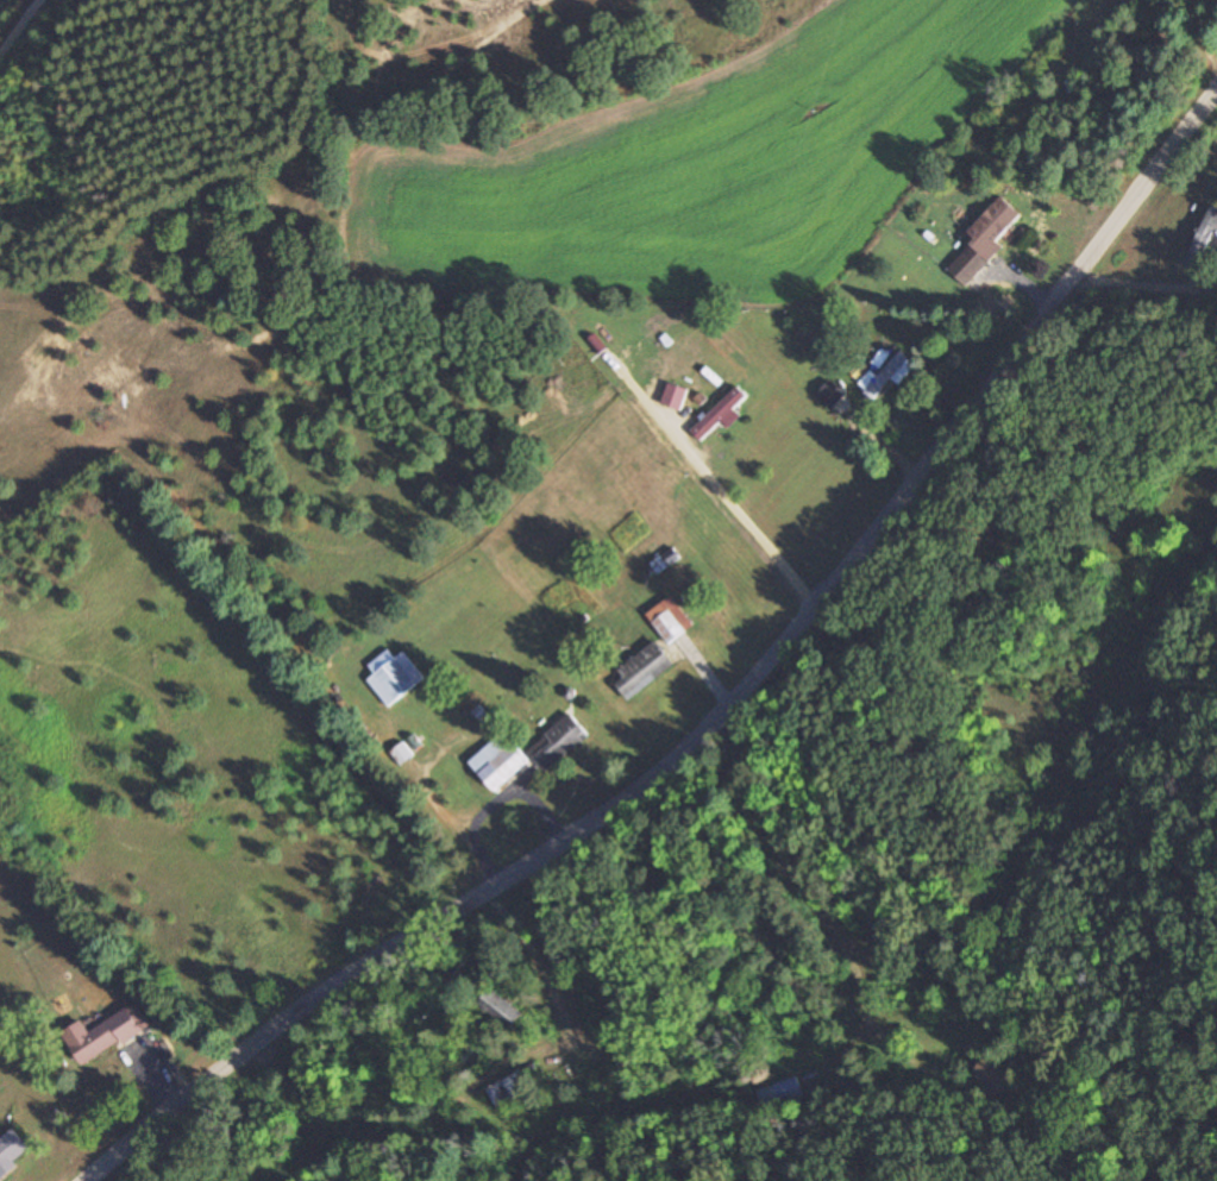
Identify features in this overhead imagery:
road: (1211, 21)
building: (981, 239)
building: (1204, 243)
road: (1144, 283)
road: (836, 327)
building: (885, 373)
building: (823, 390)
building: (672, 396)
building: (716, 414)
building: (669, 620)
road: (705, 661)
building: (641, 668)
building: (390, 681)
building: (557, 741)
building: (497, 760)
building: (501, 1007)
building: (103, 1035)
building: (995, 1078)
building: (509, 1089)
building: (780, 1098)
building: (12, 1150)

